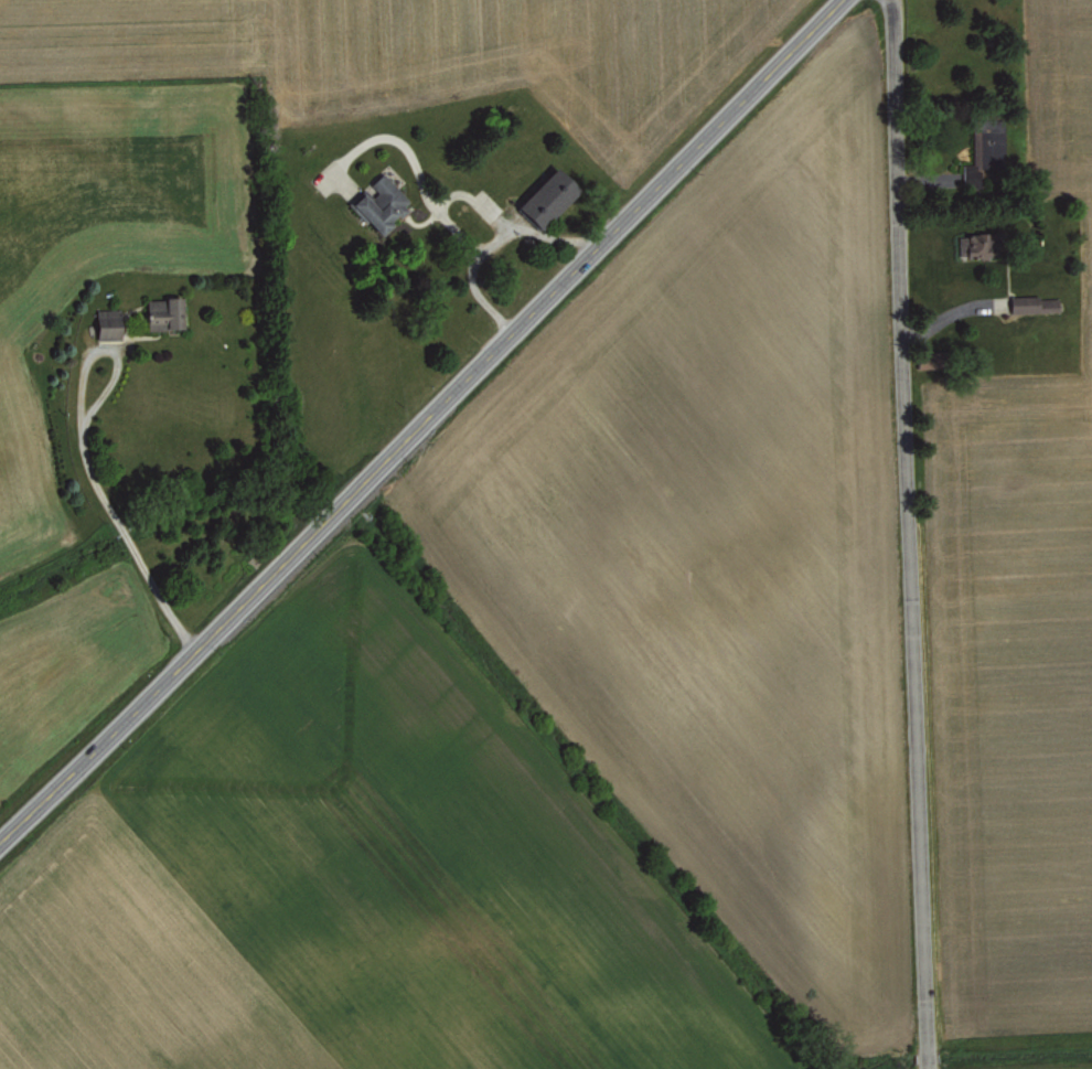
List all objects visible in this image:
building: (985, 151)
road: (417, 169)
building: (546, 199)
building: (379, 204)
road: (490, 243)
building: (977, 245)
building: (1035, 304)
building: (163, 313)
building: (108, 327)
building: (931, 360)
road: (427, 424)
road: (86, 460)
crop: (1011, 509)
road: (914, 534)
crop: (467, 538)

